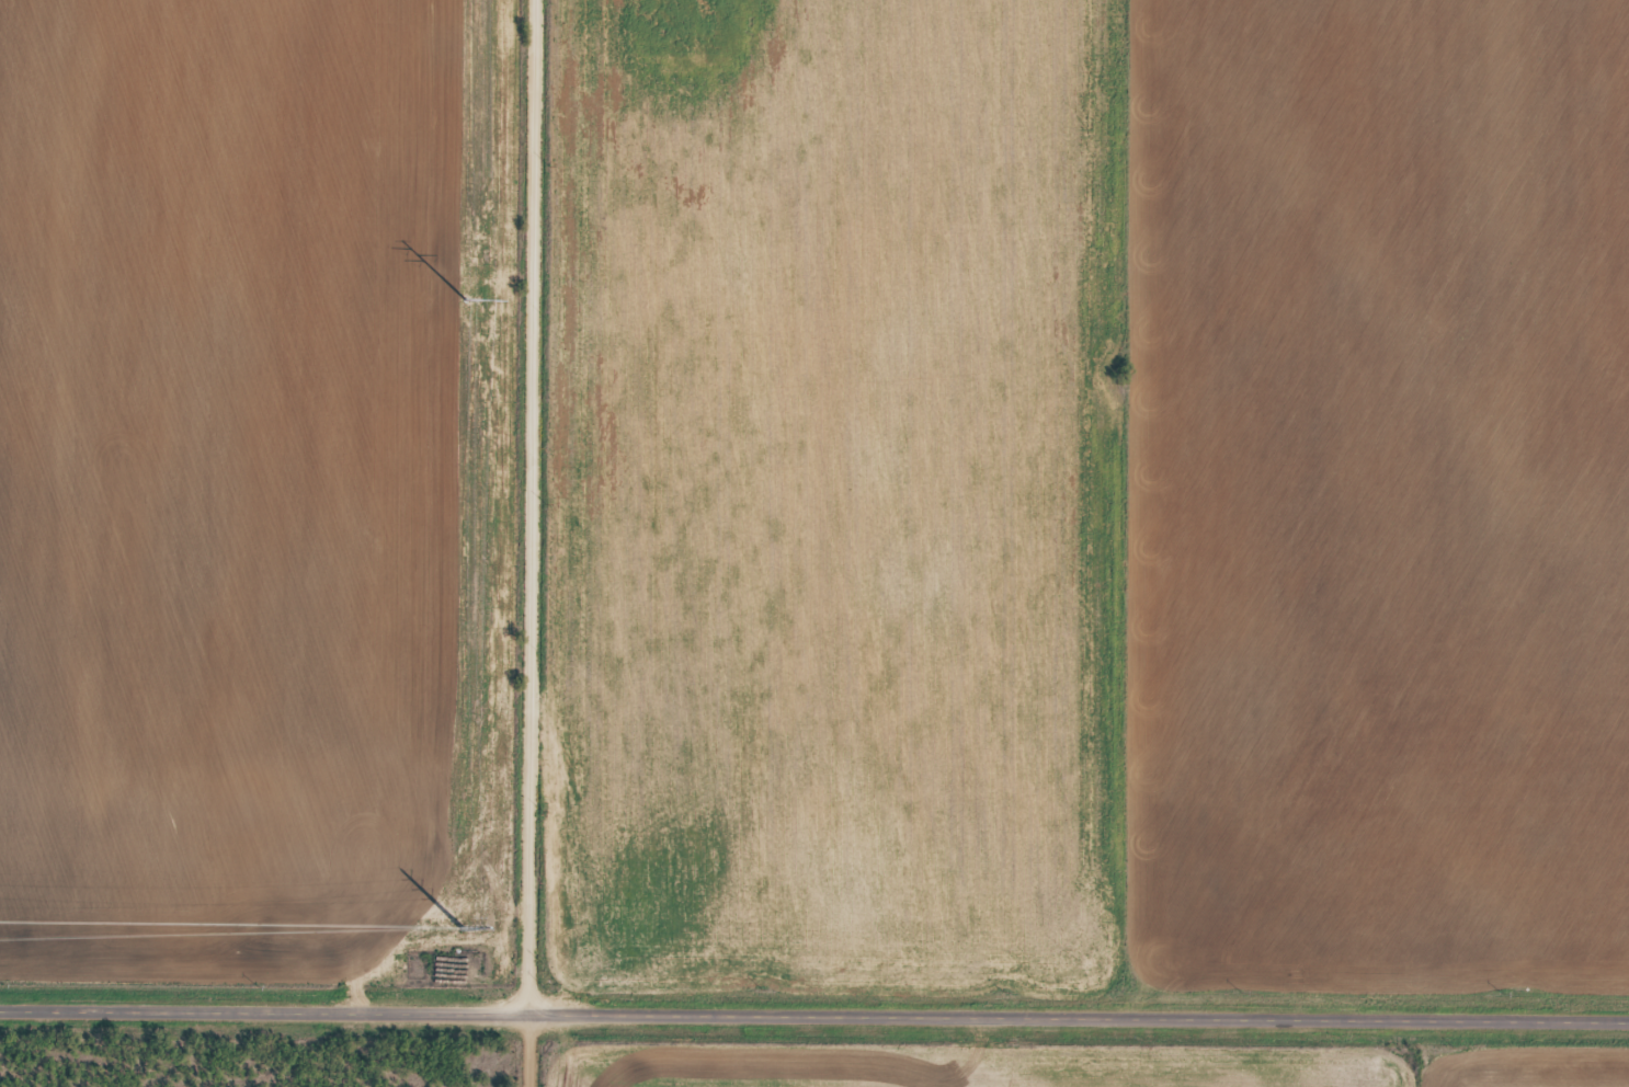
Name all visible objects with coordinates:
road: (513, 543)
road: (813, 1009)

